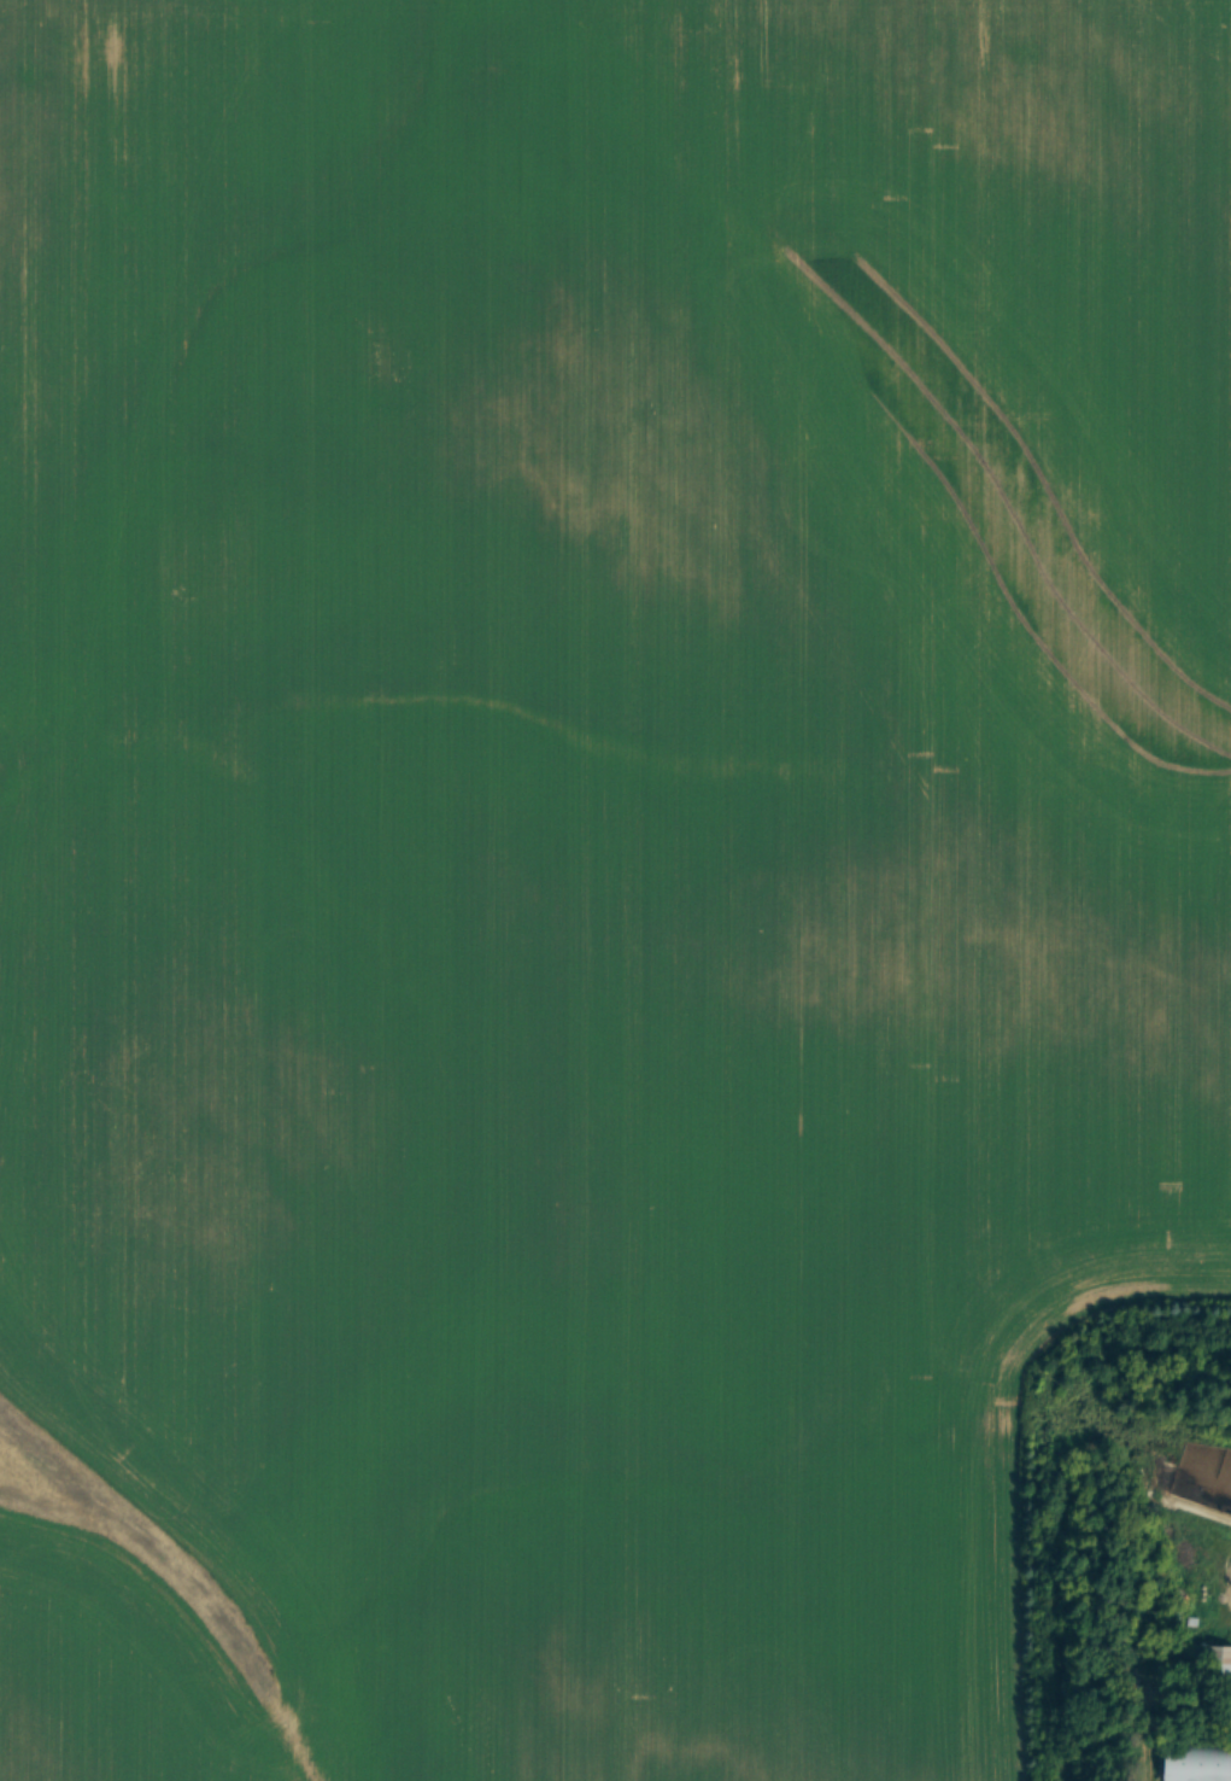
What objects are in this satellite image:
building: (1219, 1658)
building: (1195, 1763)

